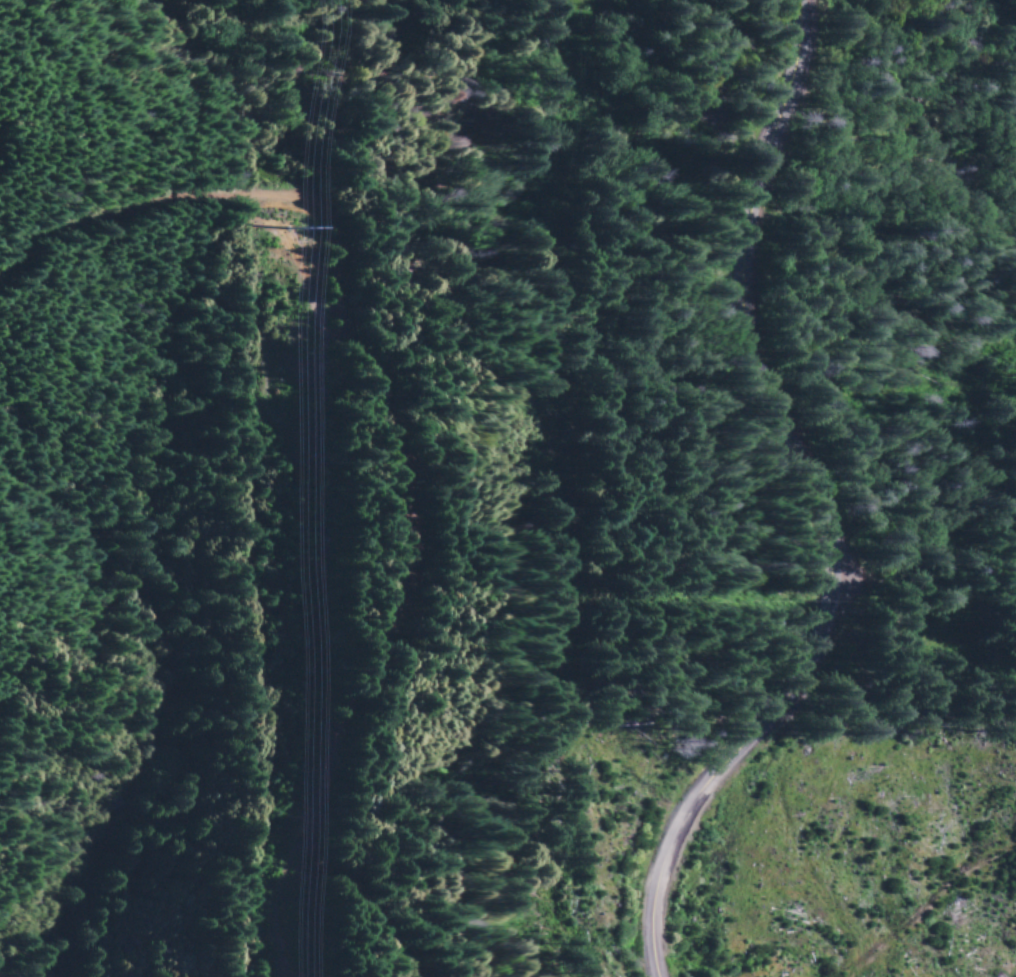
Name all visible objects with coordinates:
power tower: (274, 235)
road: (816, 510)

